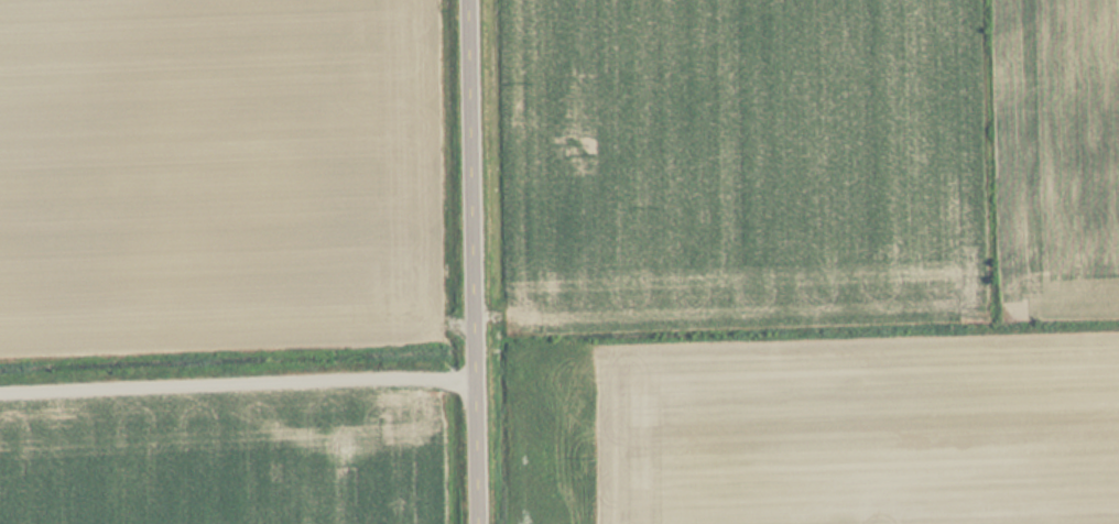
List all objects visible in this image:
road: (481, 262)

